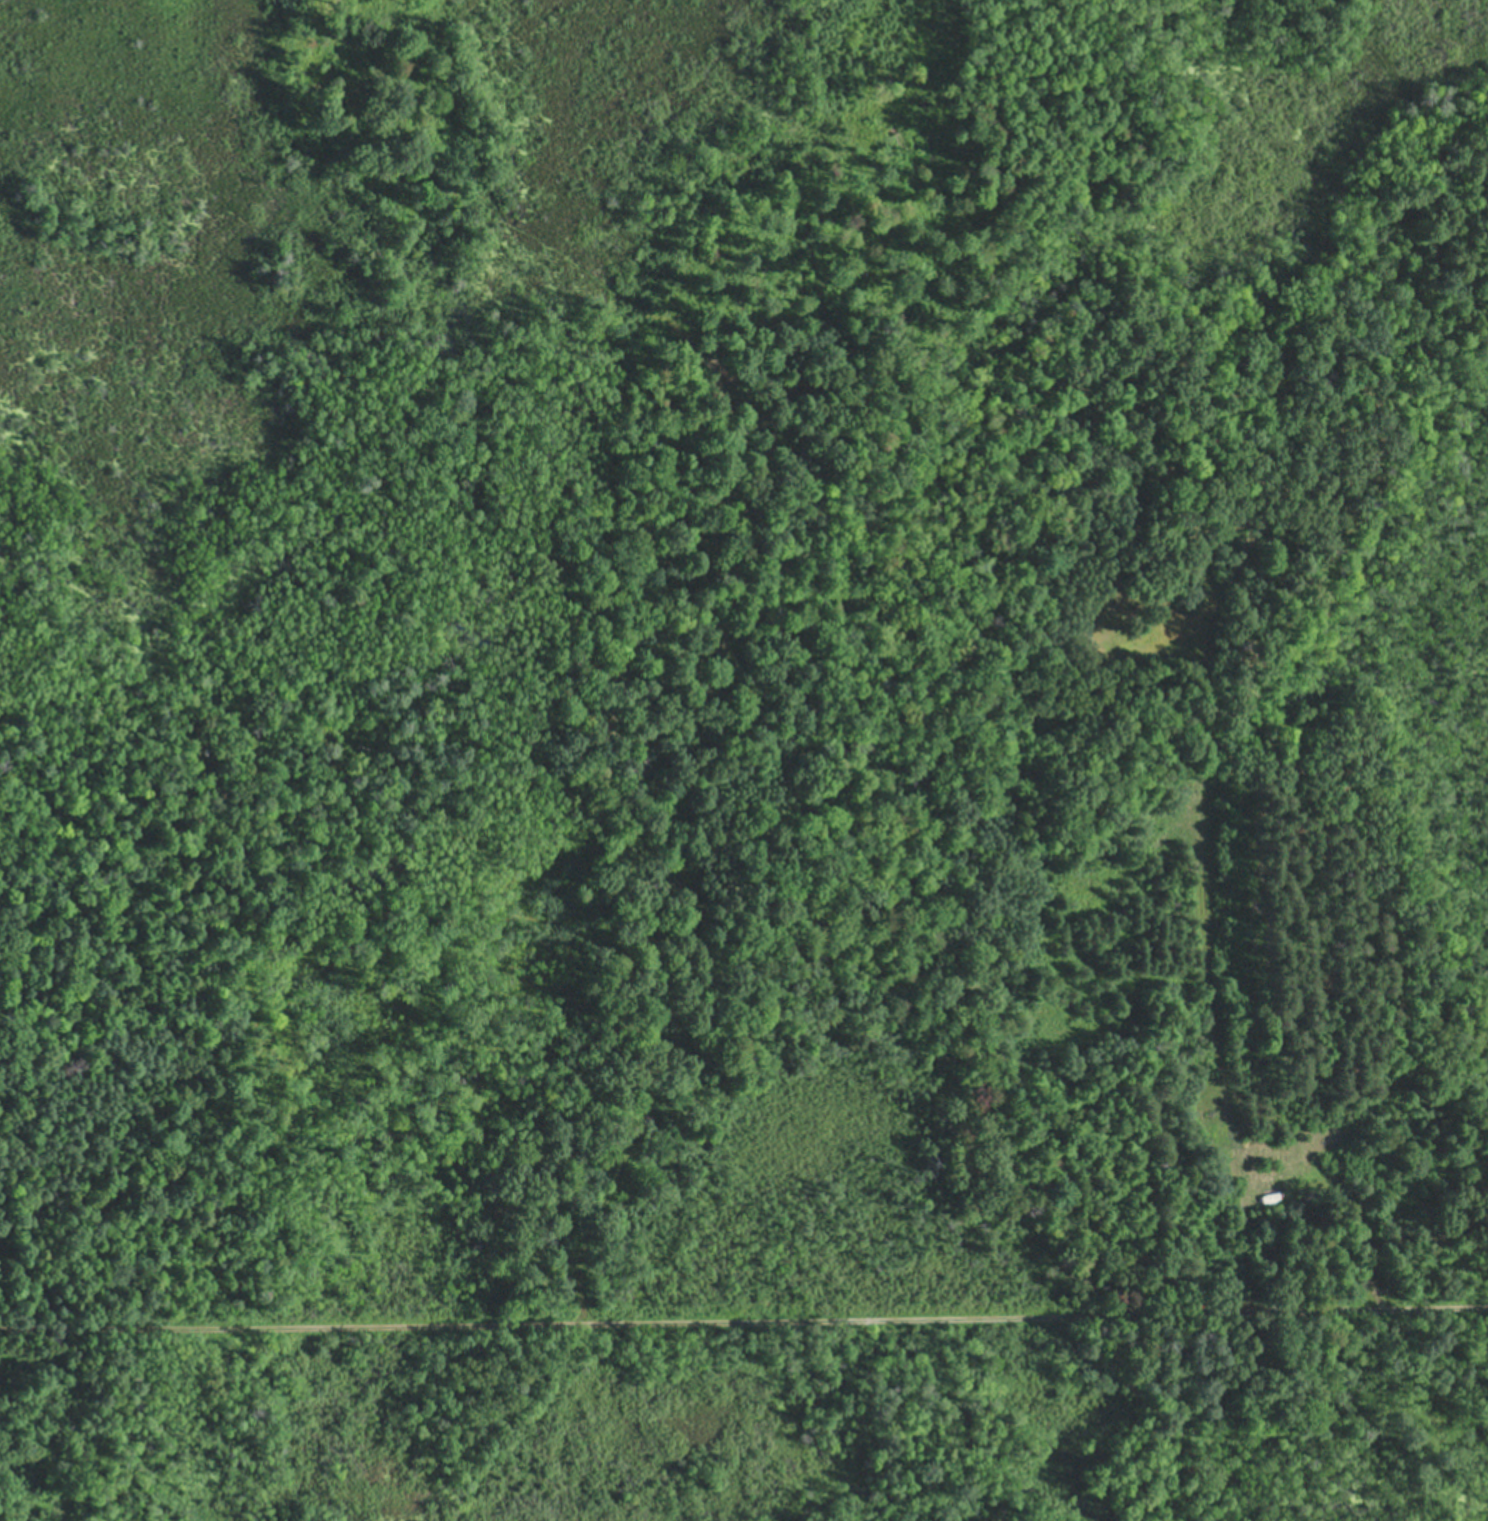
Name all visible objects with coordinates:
road: (744, 1317)

